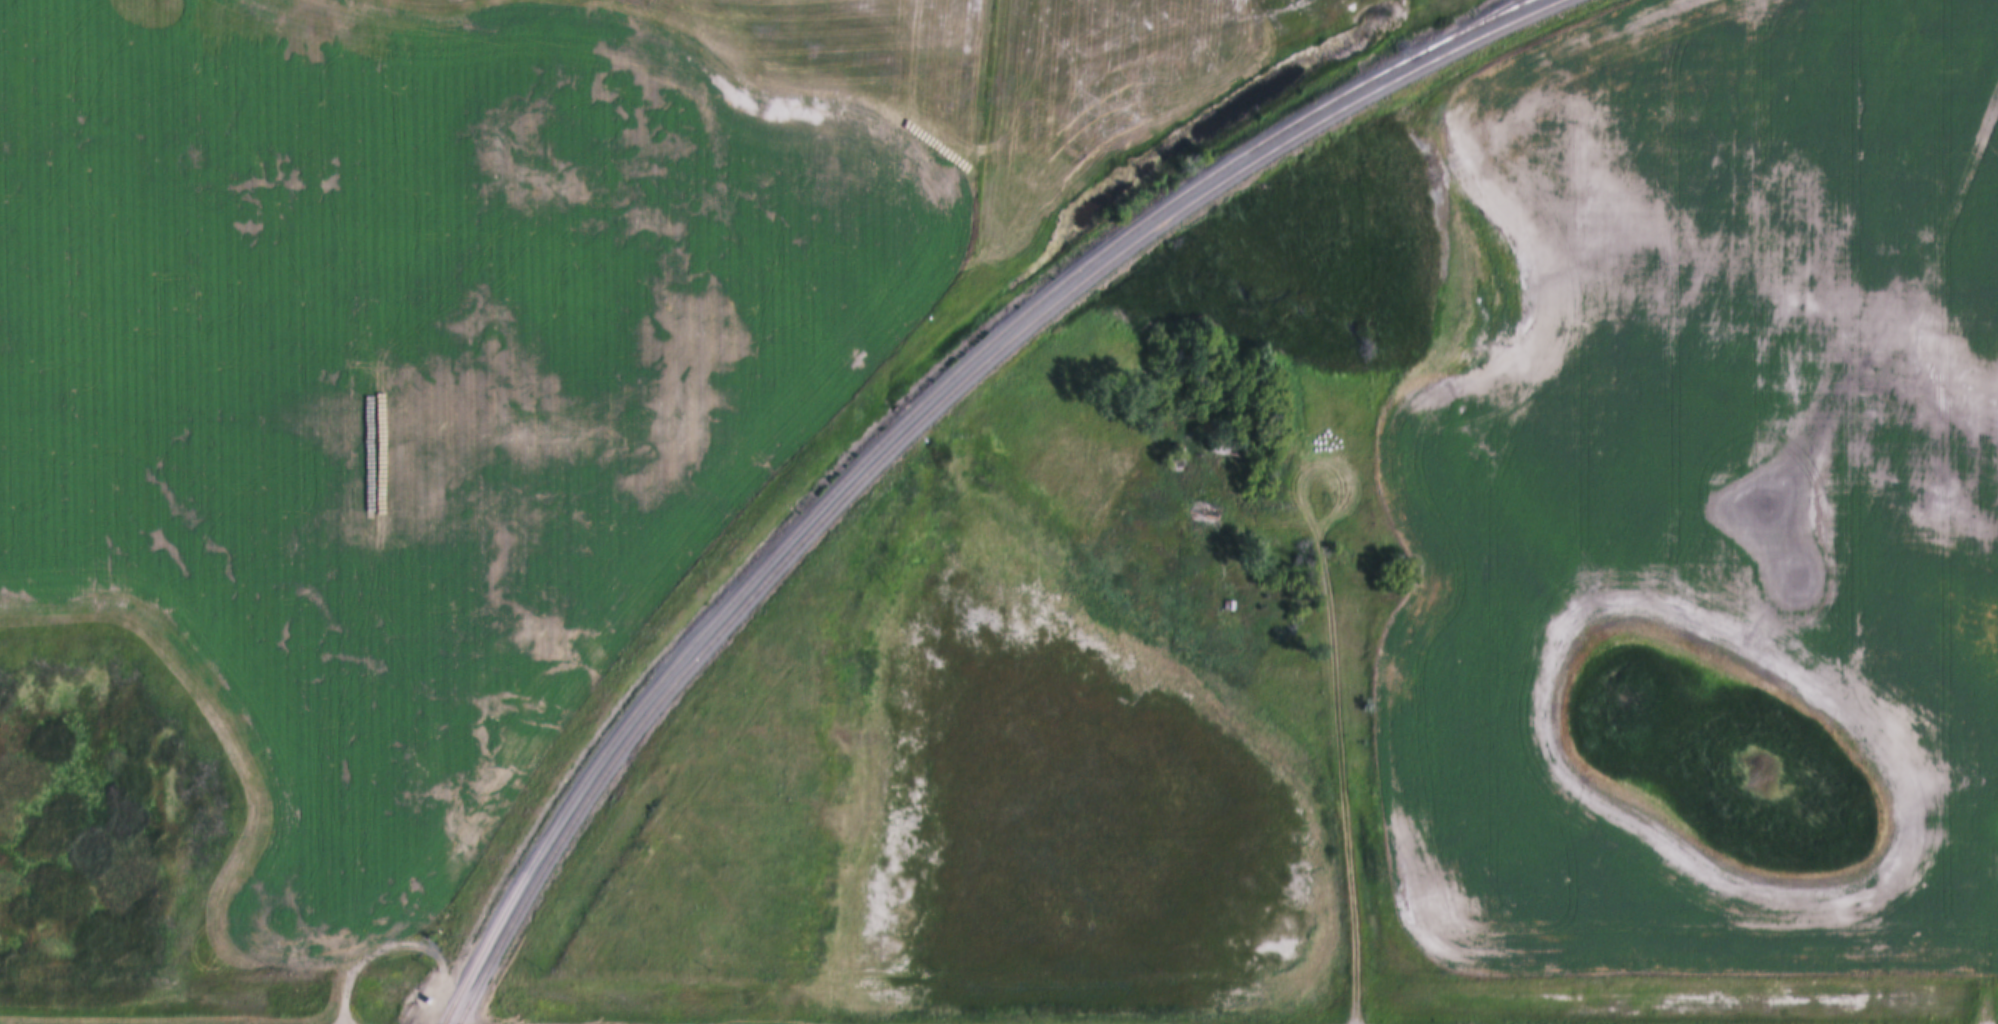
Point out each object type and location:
railway: (1496, 11)
railway: (1506, 11)
railway: (887, 439)

